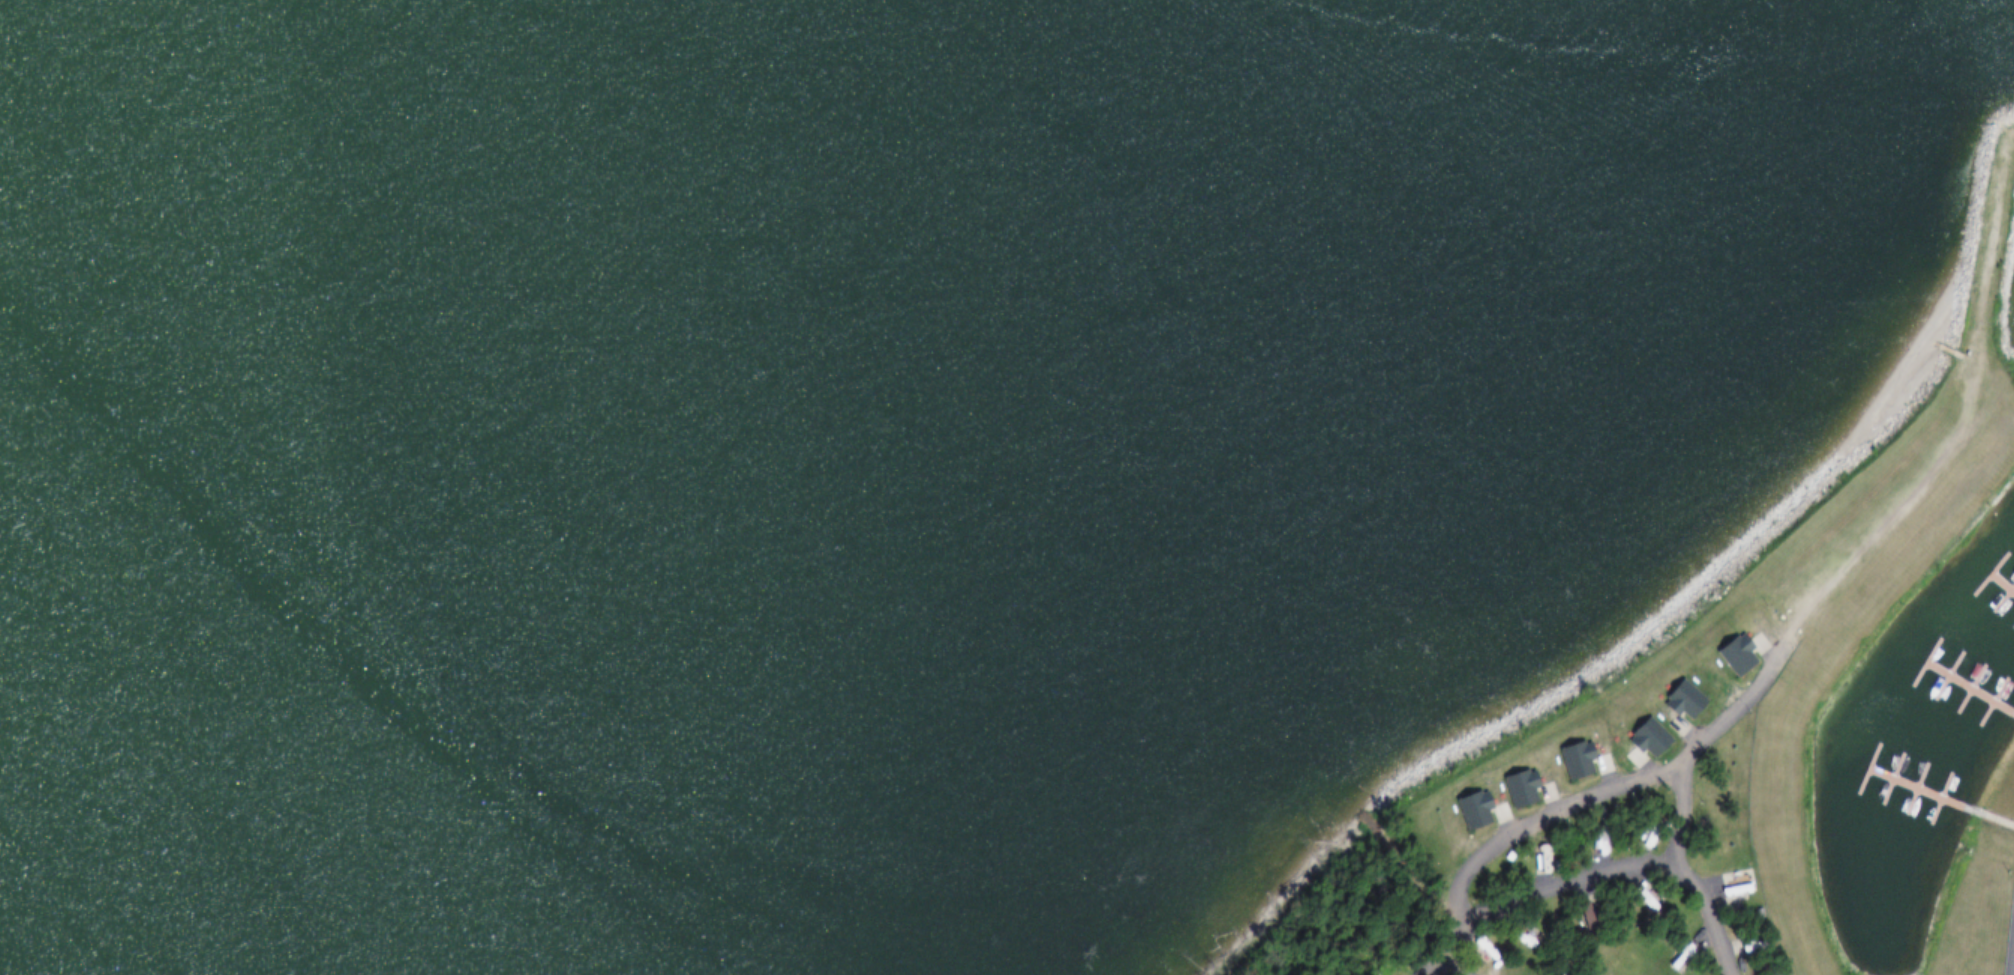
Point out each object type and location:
pier: (2009, 576)
pier: (2009, 585)
pier: (1997, 590)
pier: (2012, 615)
building: (1732, 656)
pier: (1952, 661)
pier: (1973, 675)
pier: (1937, 682)
pier: (1979, 695)
pier: (1959, 696)
building: (1679, 699)
pier: (1989, 701)
pier: (2005, 723)
building: (1646, 738)
building: (1572, 760)
pier: (1886, 765)
pier: (1910, 774)
building: (1514, 787)
pier: (1875, 787)
pier: (1930, 796)
pier: (1900, 798)
pier: (1946, 804)
building: (1466, 807)
pier: (1955, 807)
building: (1593, 840)
building: (1642, 840)
building: (1534, 857)
building: (1542, 859)
building: (1731, 890)
building: (1483, 950)
building: (1674, 954)
building: (1688, 955)
building: (1755, 961)

